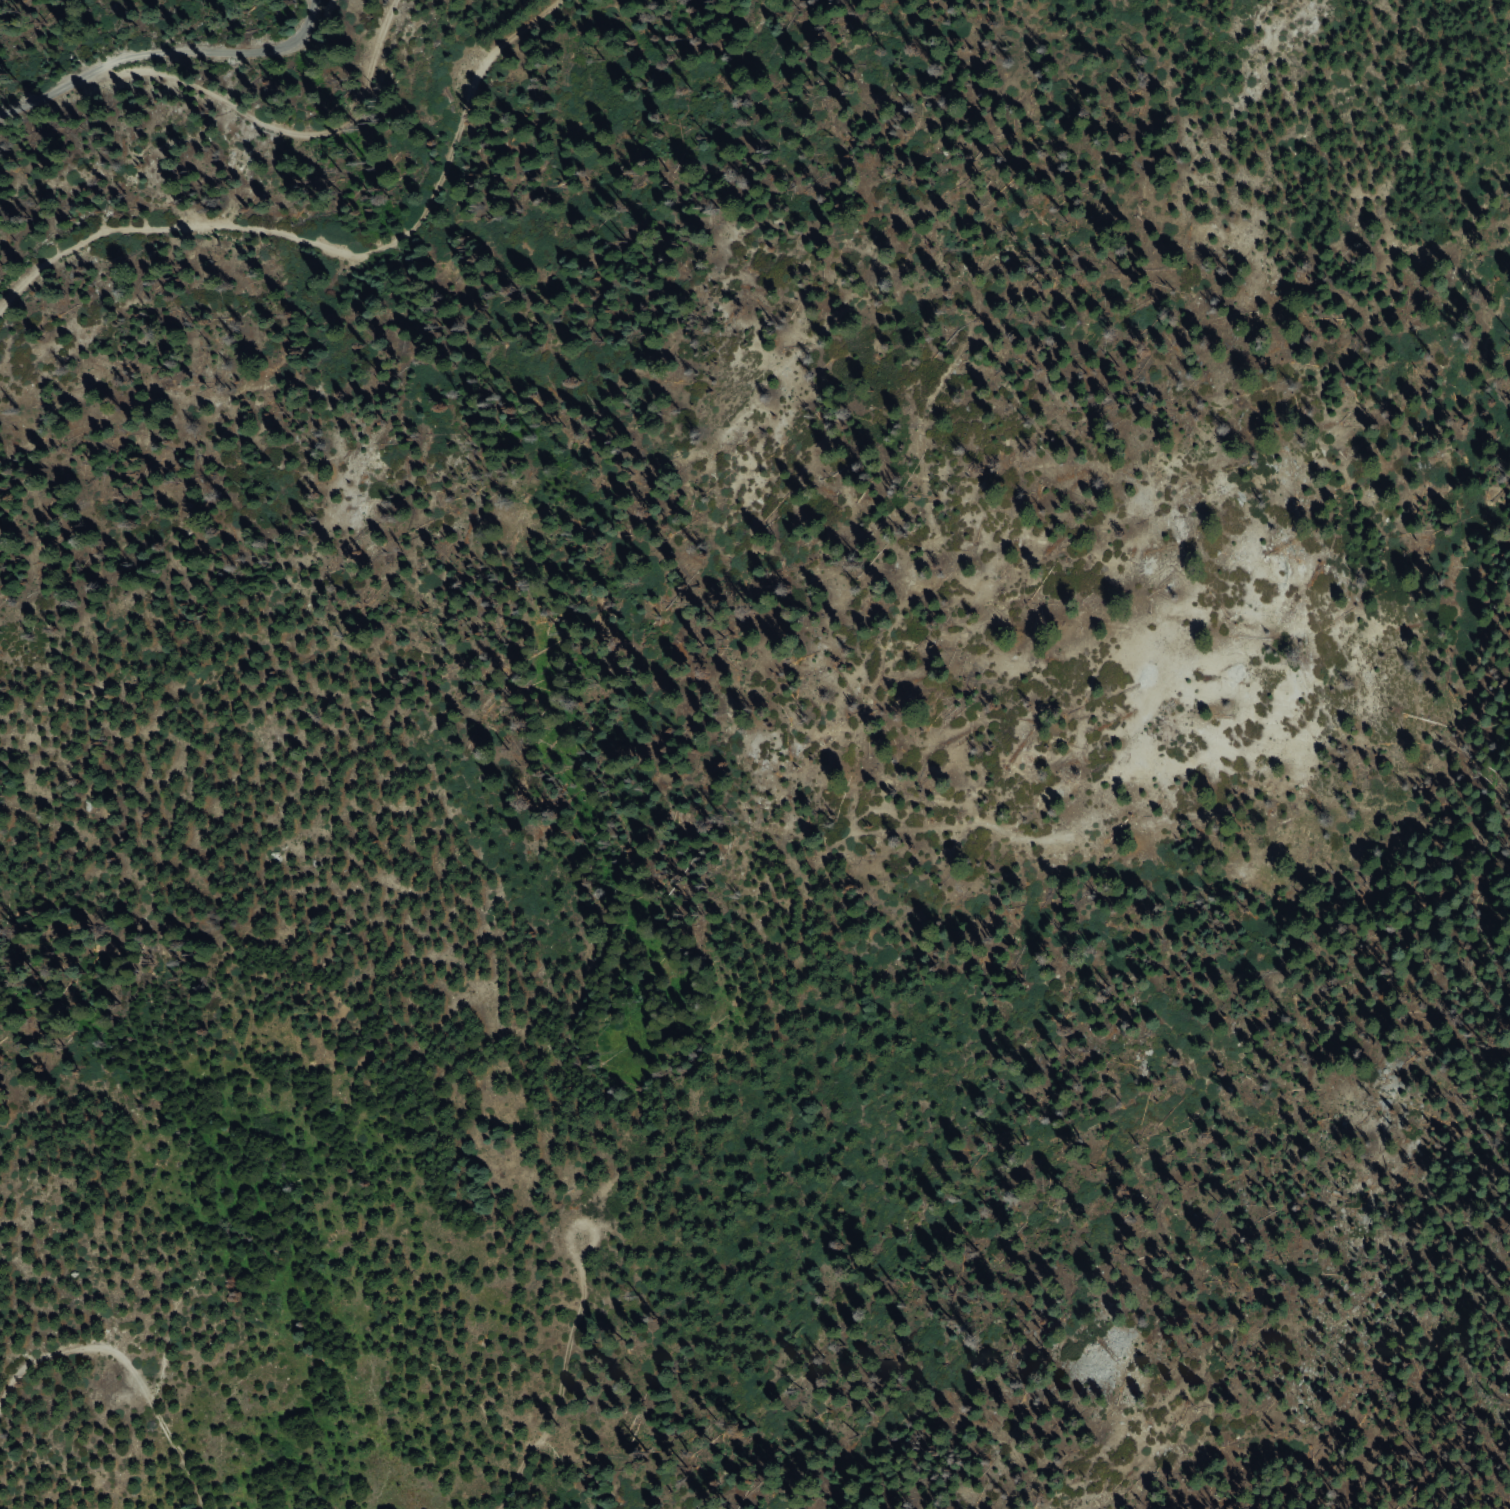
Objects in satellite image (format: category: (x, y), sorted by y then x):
road: (165, 51)
road: (285, 130)
road: (340, 262)
road: (665, 1159)
road: (120, 1385)

